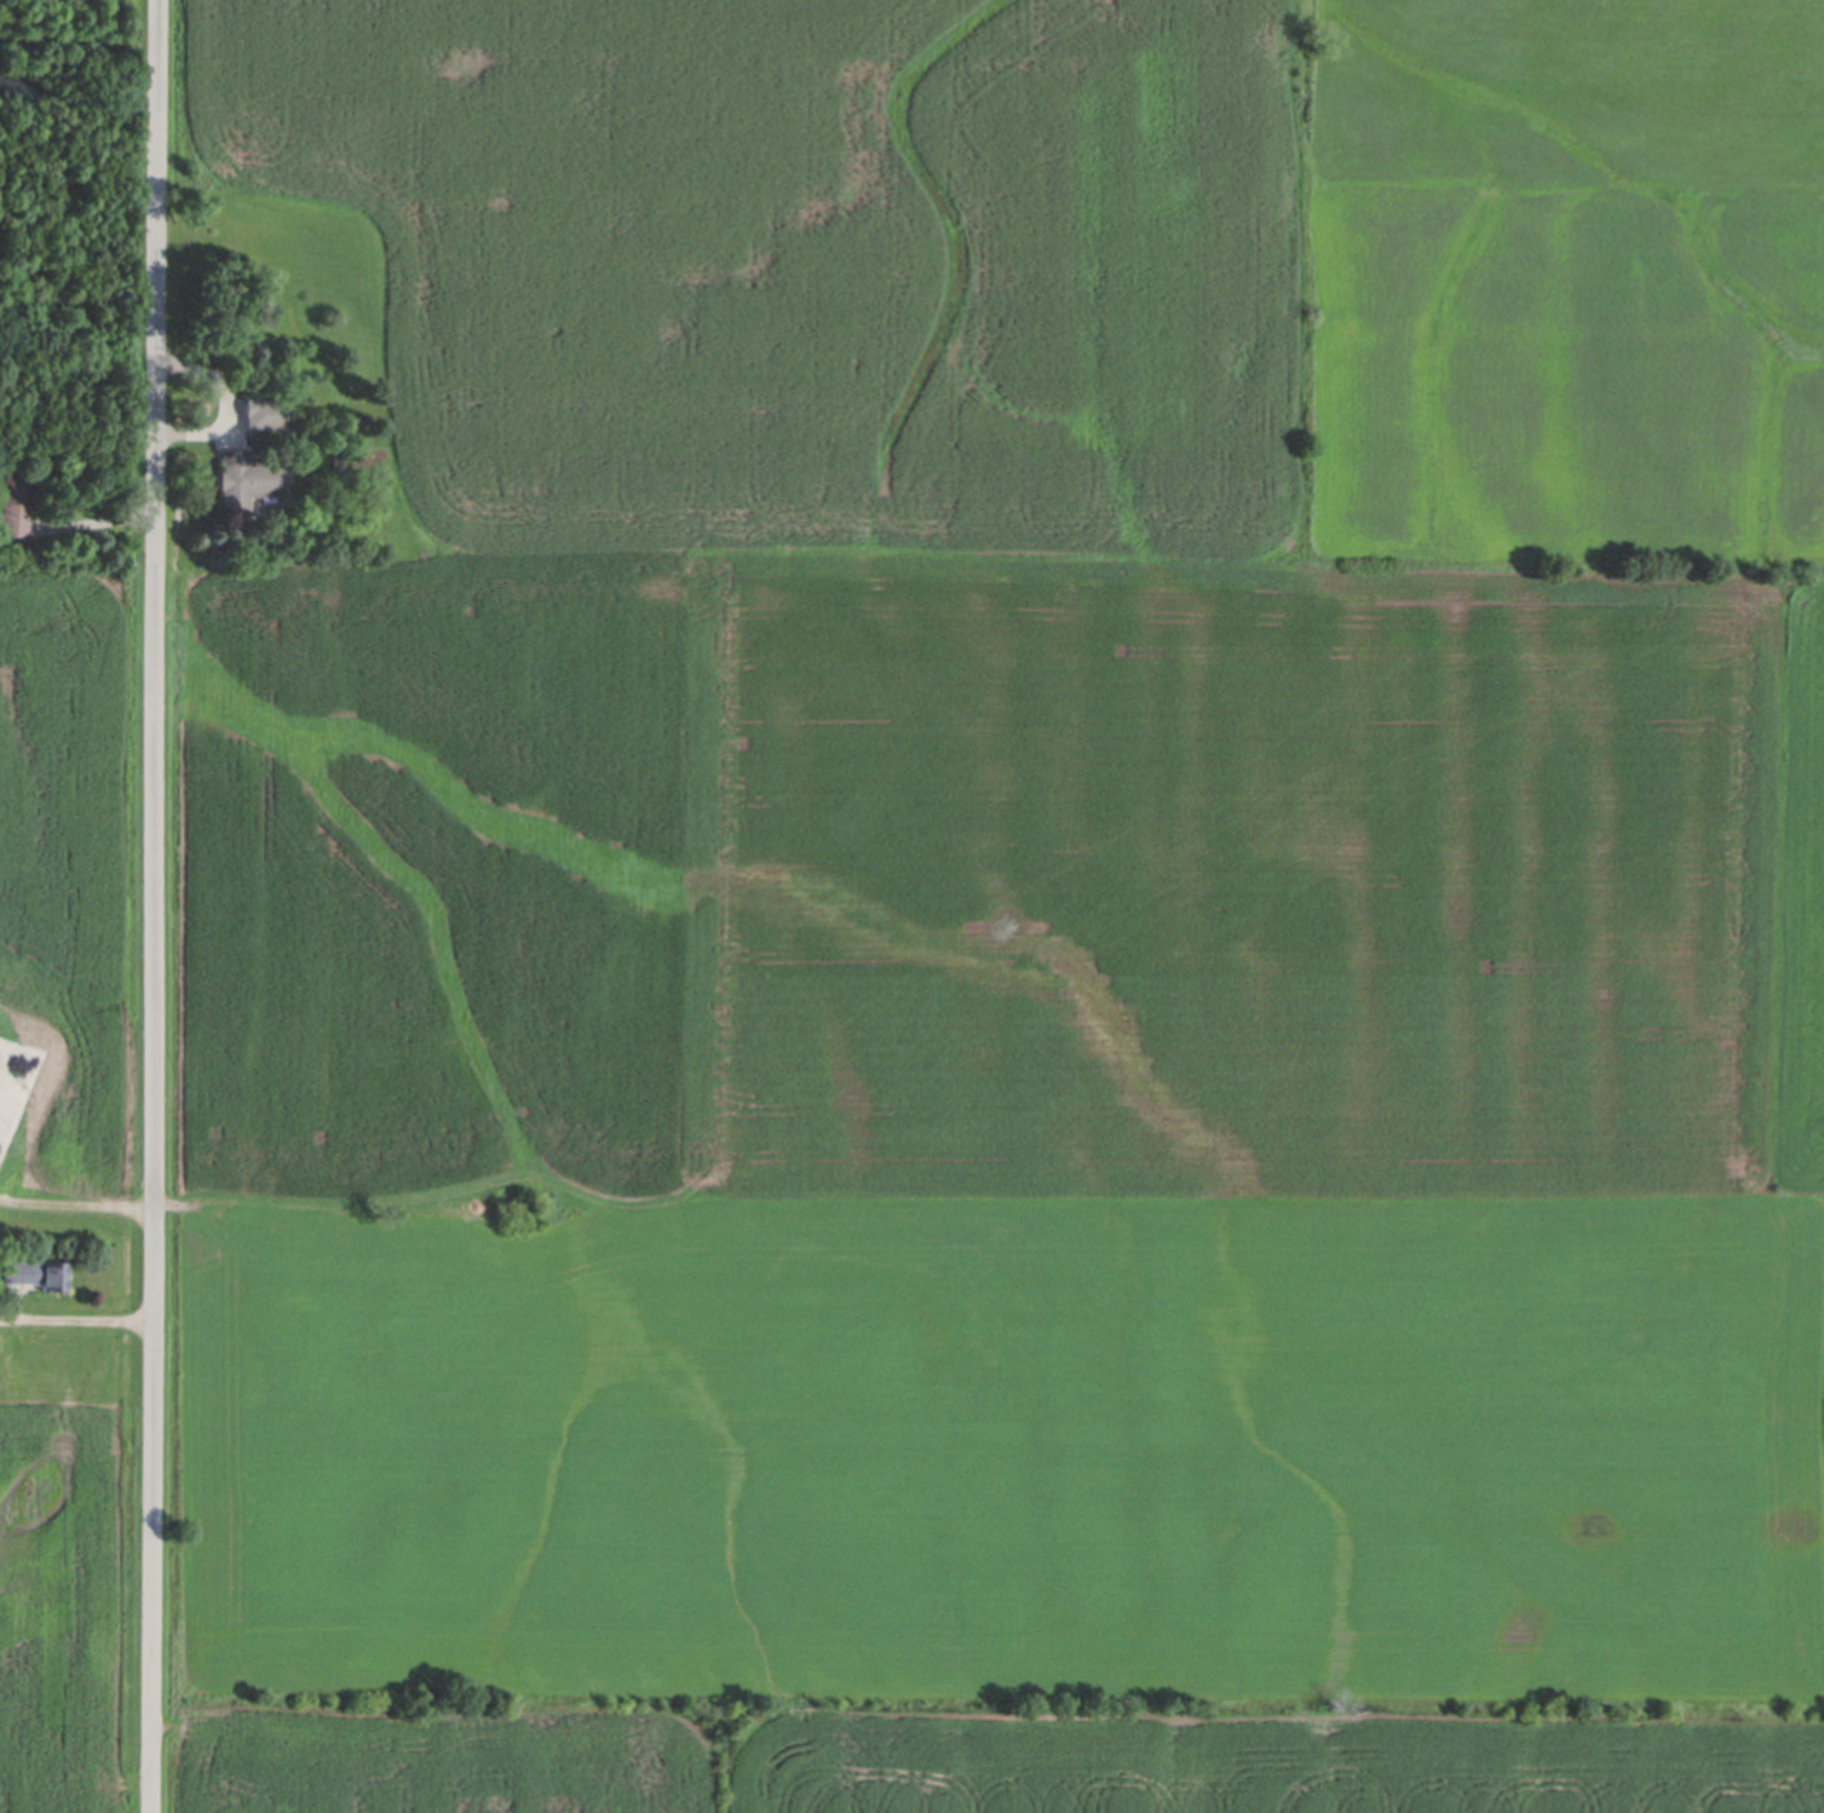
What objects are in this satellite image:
building: (264, 414)
building: (339, 459)
building: (251, 480)
building: (15, 506)
road: (155, 905)
road: (76, 1202)
building: (38, 1276)
road: (76, 1320)

